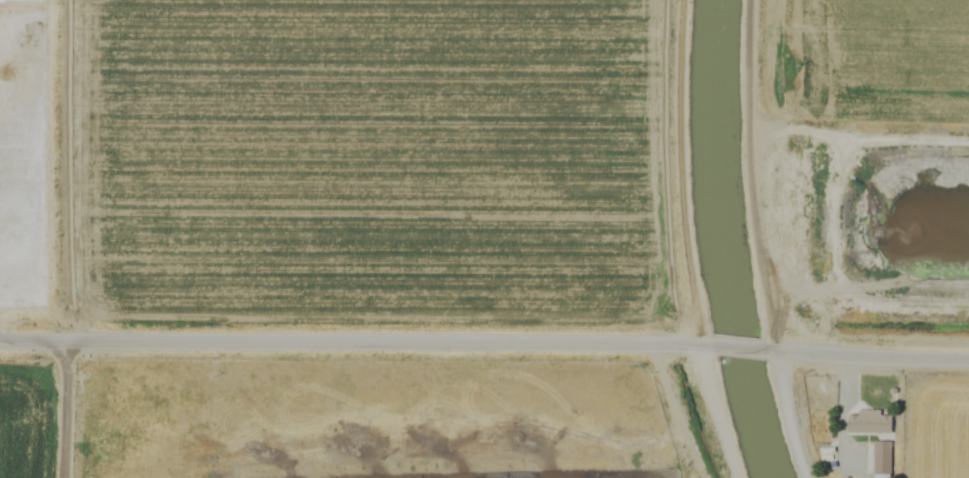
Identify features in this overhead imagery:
crop: (393, 216)
road: (760, 241)
road: (484, 339)
road: (64, 408)
building: (873, 422)
building: (884, 459)

